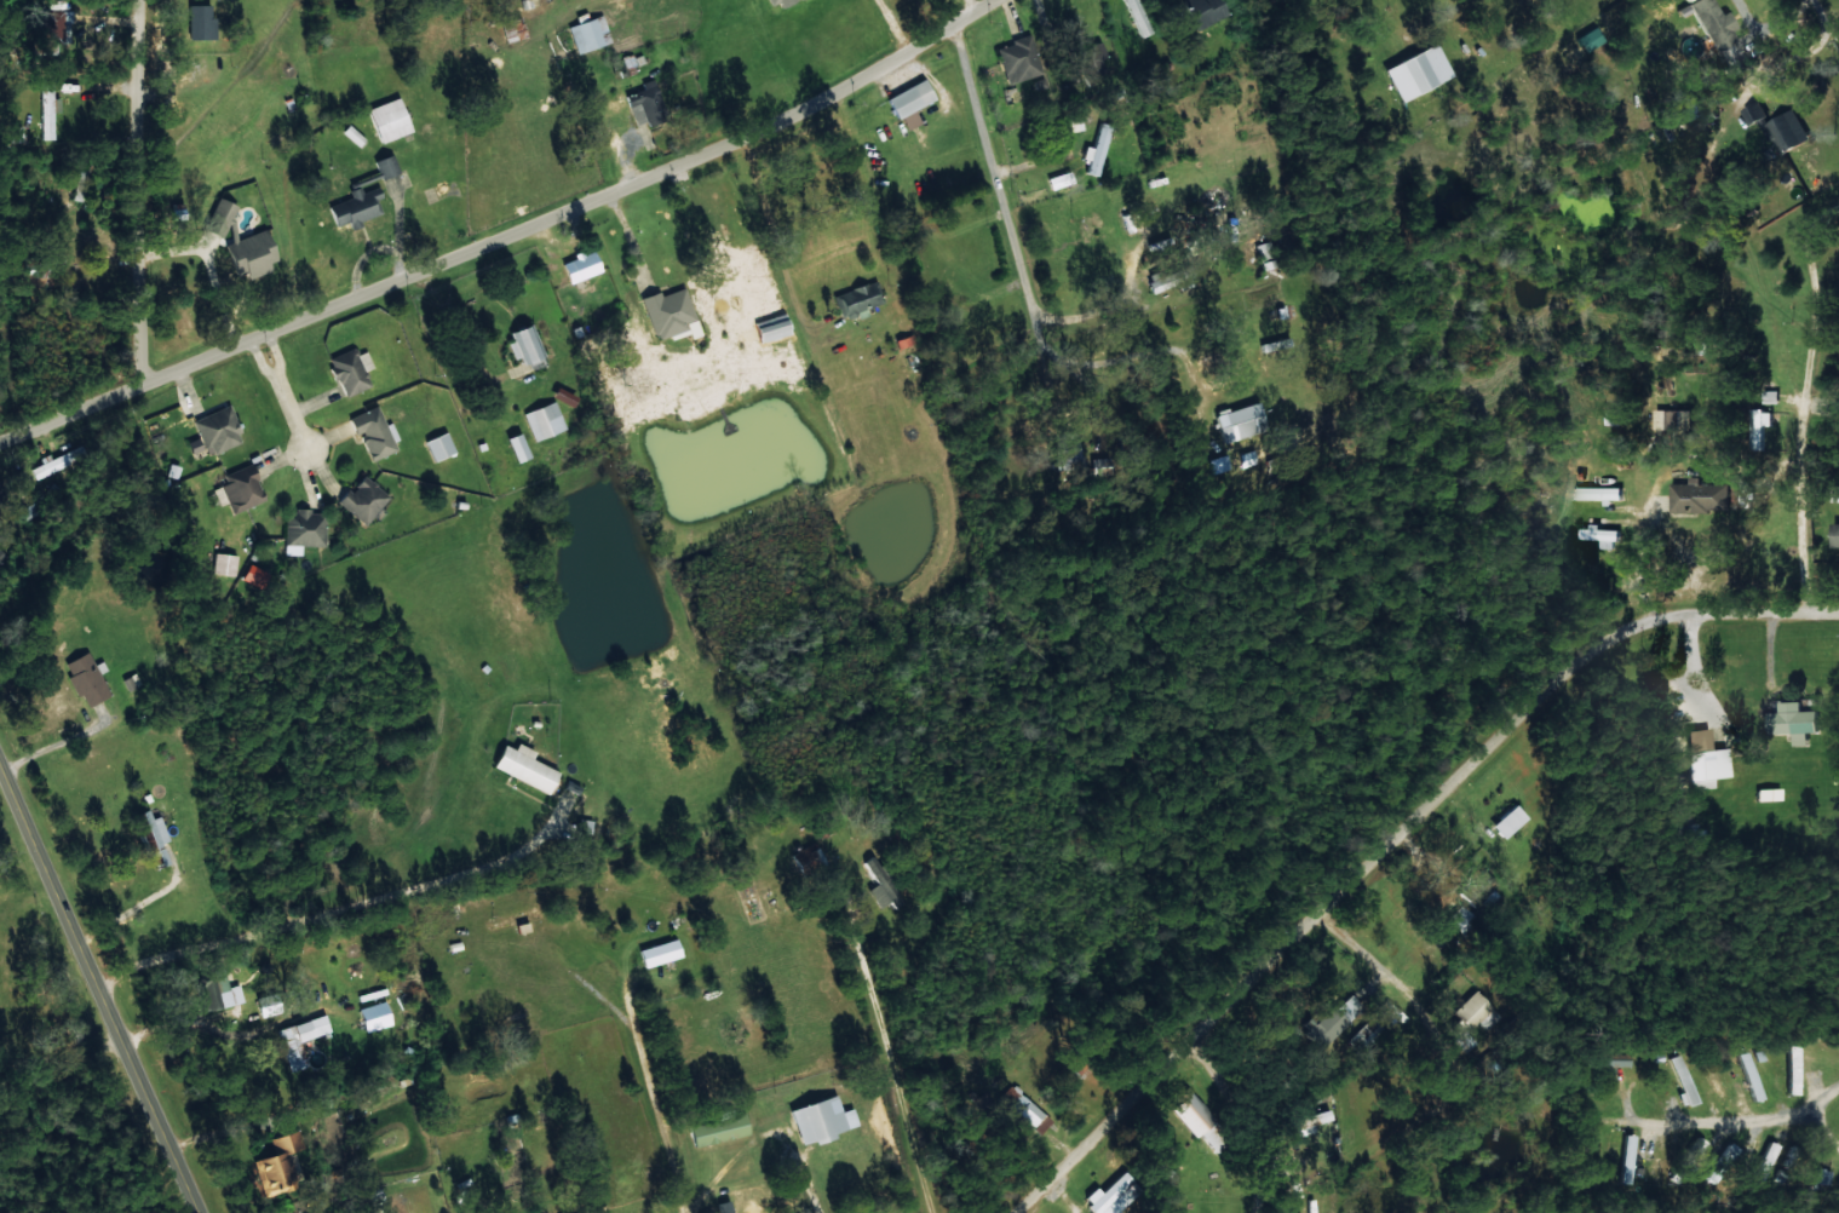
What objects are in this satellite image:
building: (781, 1)
road: (201, 5)
building: (1206, 11)
building: (1137, 17)
building: (201, 22)
building: (1714, 22)
building: (56, 27)
building: (513, 29)
building: (590, 34)
building: (1590, 39)
building: (1019, 59)
building: (1090, 59)
building: (632, 61)
building: (1419, 71)
building: (910, 102)
building: (646, 104)
building: (47, 111)
building: (1757, 113)
building: (390, 120)
building: (1791, 131)
building: (354, 134)
building: (1096, 150)
road: (126, 166)
building: (386, 166)
road: (1057, 211)
road: (492, 213)
building: (220, 217)
building: (253, 253)
road: (1206, 253)
building: (1265, 254)
building: (581, 265)
building: (1168, 280)
building: (857, 300)
building: (669, 311)
building: (772, 327)
building: (524, 345)
road: (1225, 356)
building: (351, 370)
building: (564, 396)
building: (1676, 418)
building: (544, 421)
building: (1241, 422)
building: (1760, 427)
building: (219, 430)
building: (375, 433)
building: (439, 447)
building: (518, 447)
building: (1068, 455)
building: (59, 460)
road: (1695, 467)
building: (242, 489)
building: (1599, 493)
building: (1701, 496)
building: (4, 500)
building: (363, 500)
building: (304, 530)
building: (1838, 534)
building: (1603, 536)
building: (224, 564)
building: (254, 576)
building: (87, 679)
building: (131, 682)
building: (1797, 722)
building: (1706, 760)
building: (525, 768)
building: (1768, 794)
building: (1508, 821)
building: (153, 835)
road: (1392, 838)
building: (809, 860)
building: (884, 885)
building: (1476, 887)
road: (341, 902)
building: (1459, 919)
building: (512, 920)
building: (660, 952)
building: (214, 985)
road: (98, 993)
road: (863, 1007)
building: (1332, 1019)
building: (1471, 1019)
building: (283, 1039)
building: (1616, 1059)
building: (1795, 1069)
building: (1752, 1075)
building: (1683, 1080)
building: (1719, 1085)
road: (663, 1103)
building: (1027, 1109)
building: (1191, 1110)
road: (1258, 1110)
building: (1315, 1117)
building: (822, 1119)
building: (719, 1128)
building: (1214, 1137)
building: (1627, 1157)
building: (1723, 1161)
building: (1765, 1161)
building: (280, 1165)
building: (1114, 1195)

